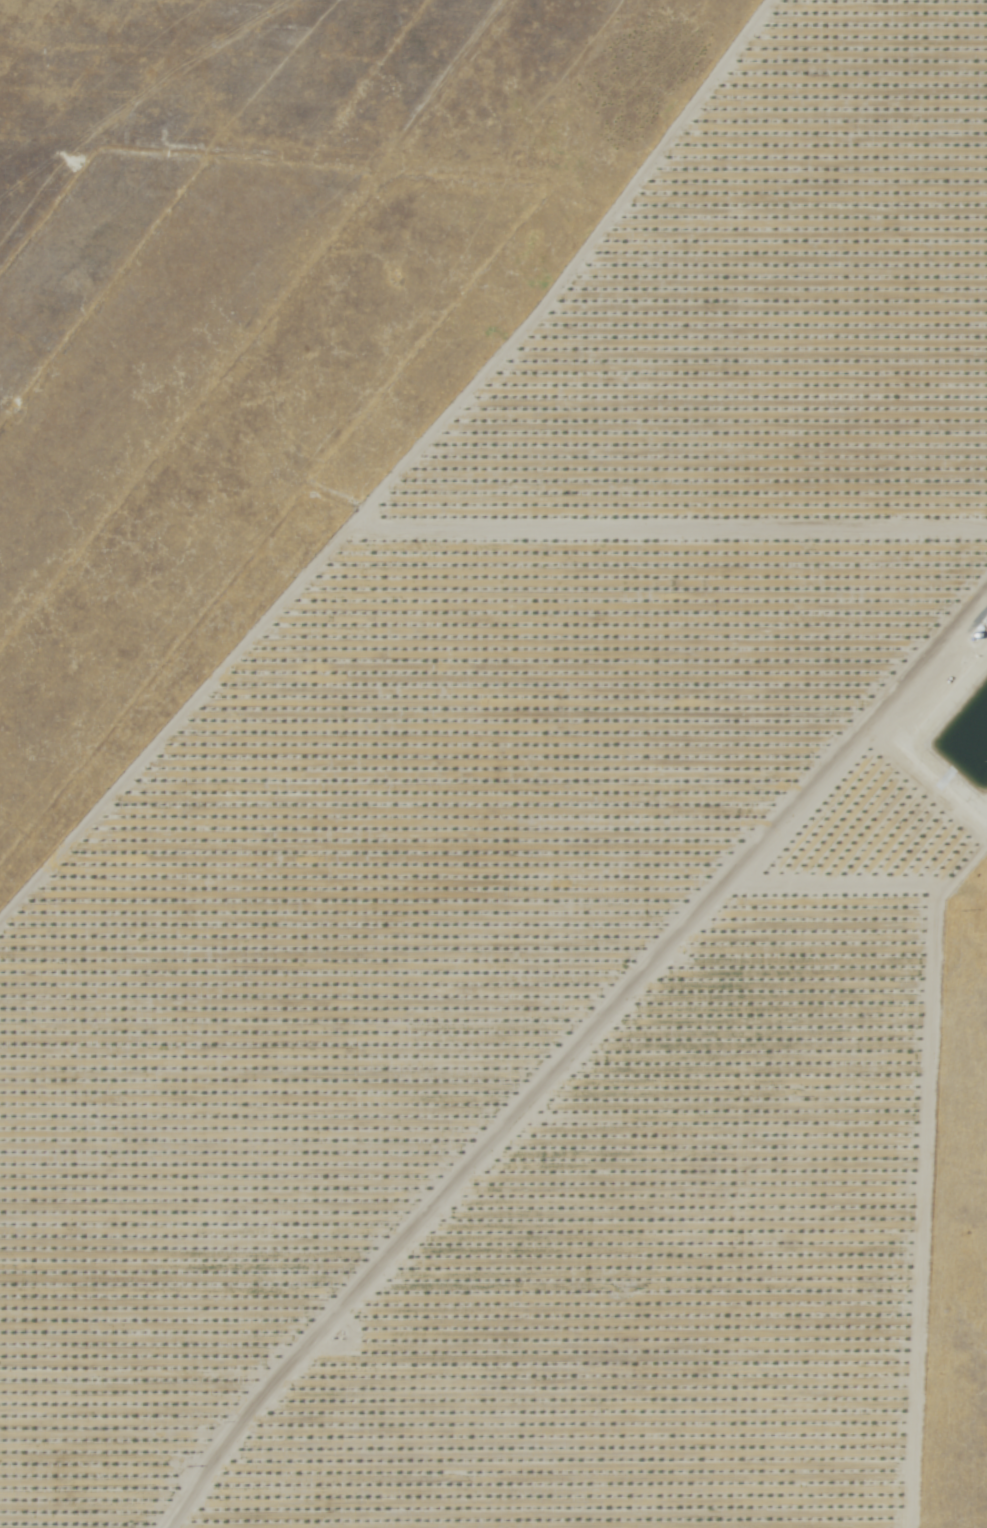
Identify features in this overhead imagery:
crop: (770, 305)
crop: (871, 841)
crop: (368, 950)
crop: (649, 1276)

